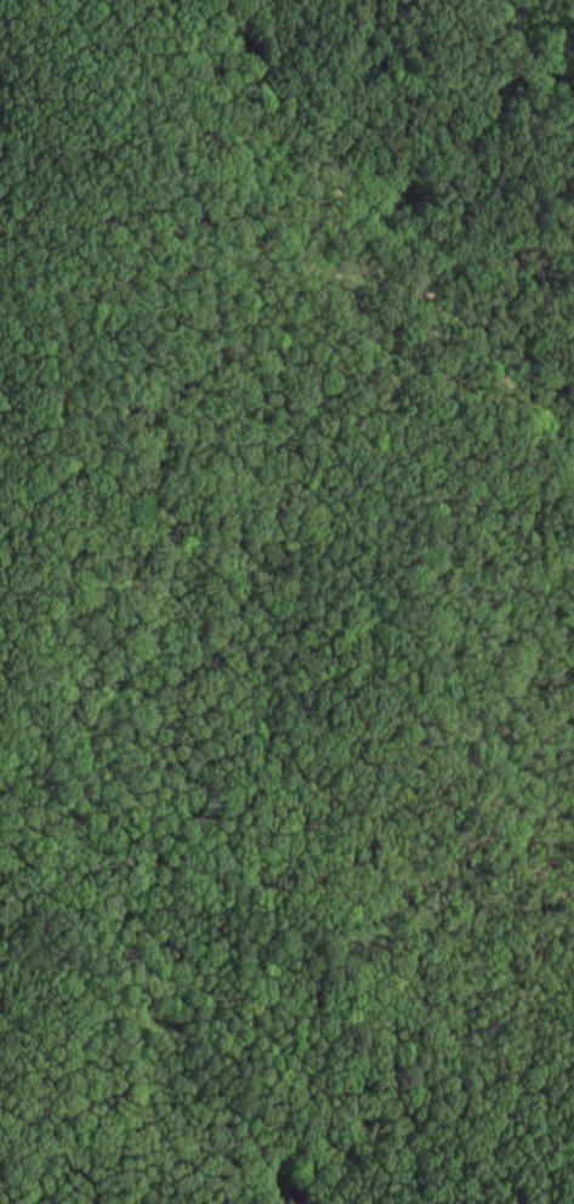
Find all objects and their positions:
road: (381, 225)
road: (254, 604)

